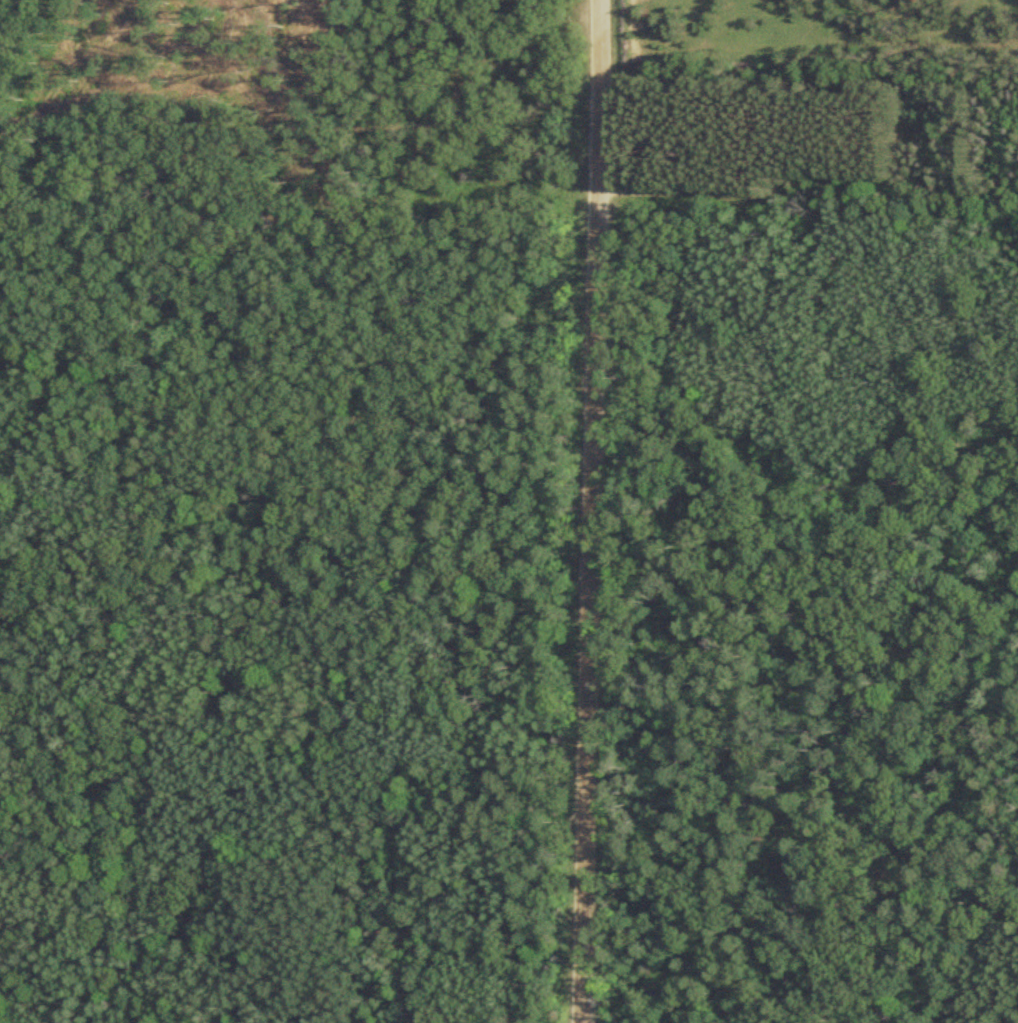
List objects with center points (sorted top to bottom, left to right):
road: (582, 511)

